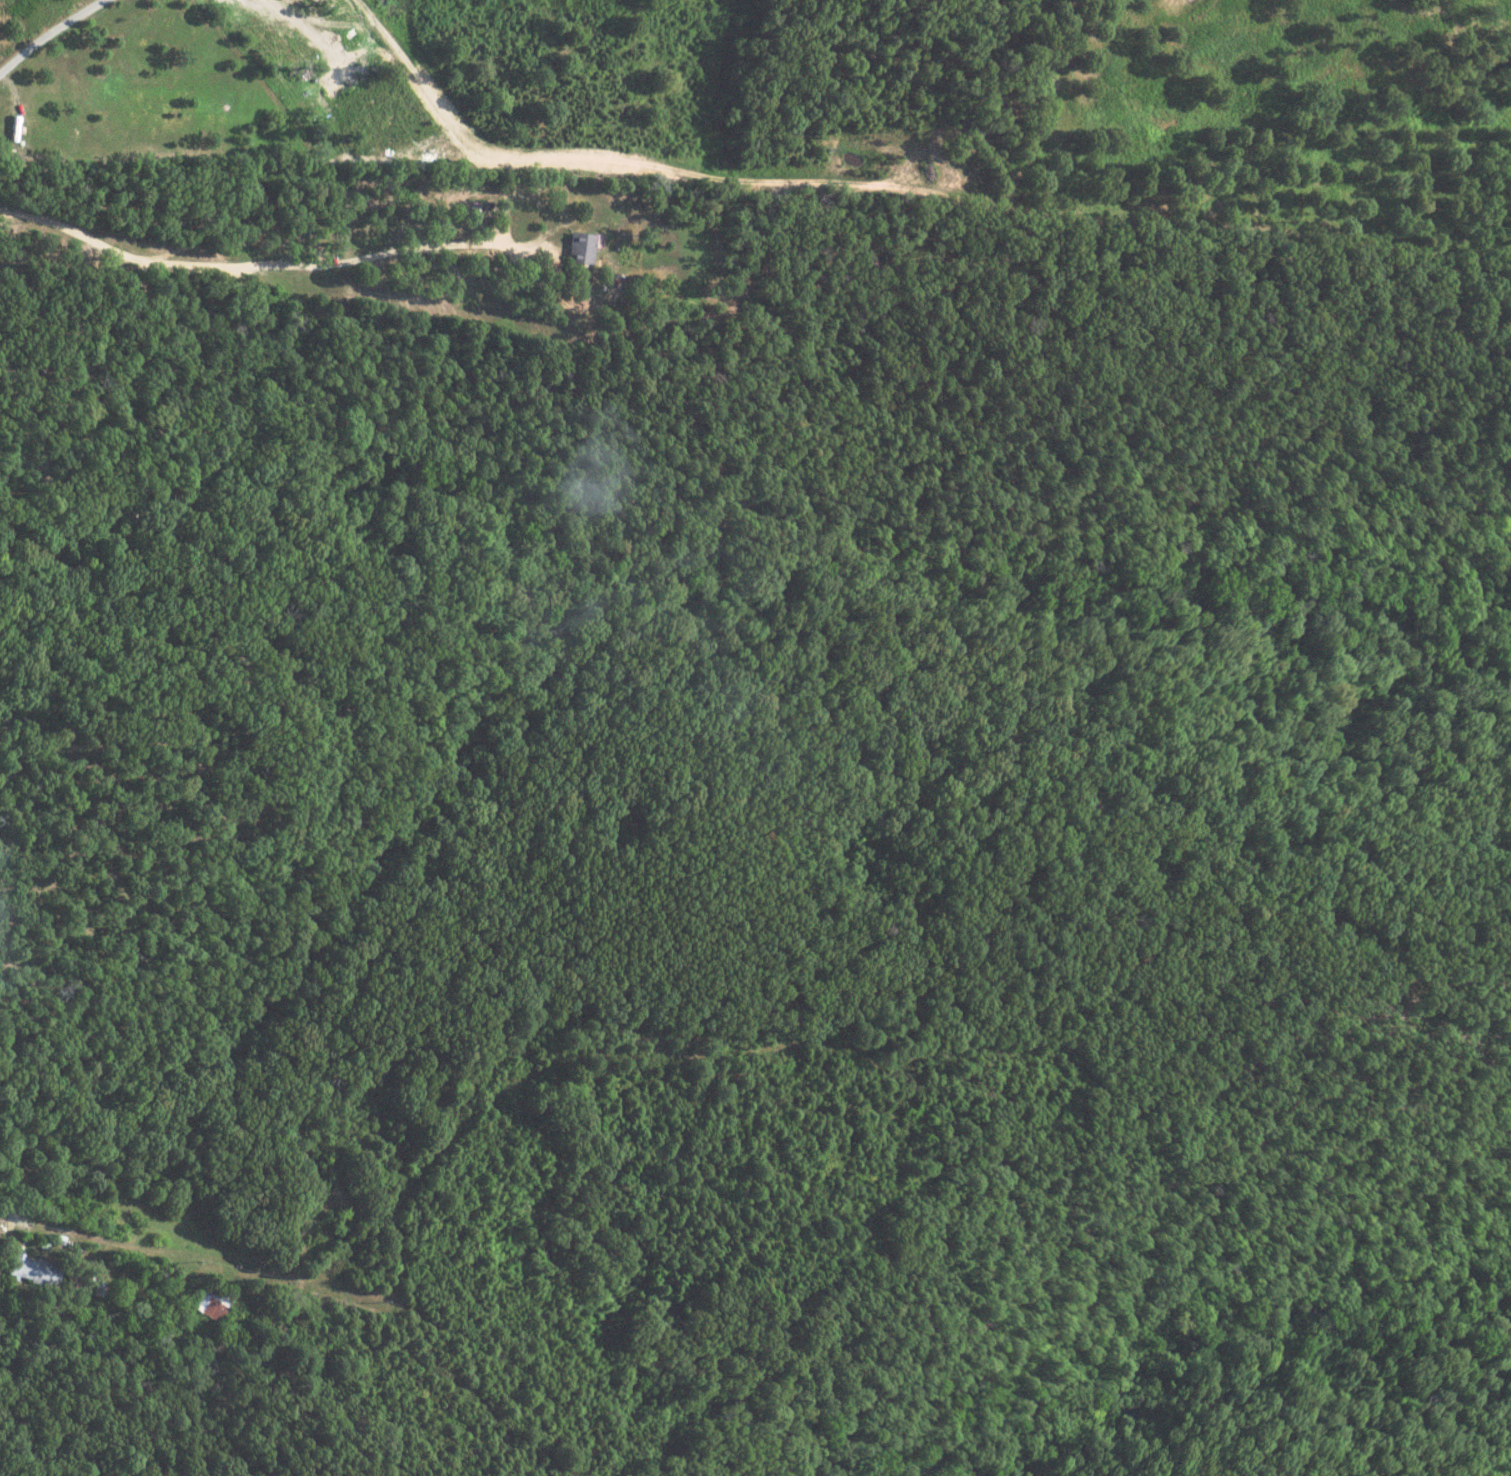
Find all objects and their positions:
road: (52, 34)
building: (579, 248)
road: (144, 1248)
building: (32, 1269)
building: (211, 1310)

